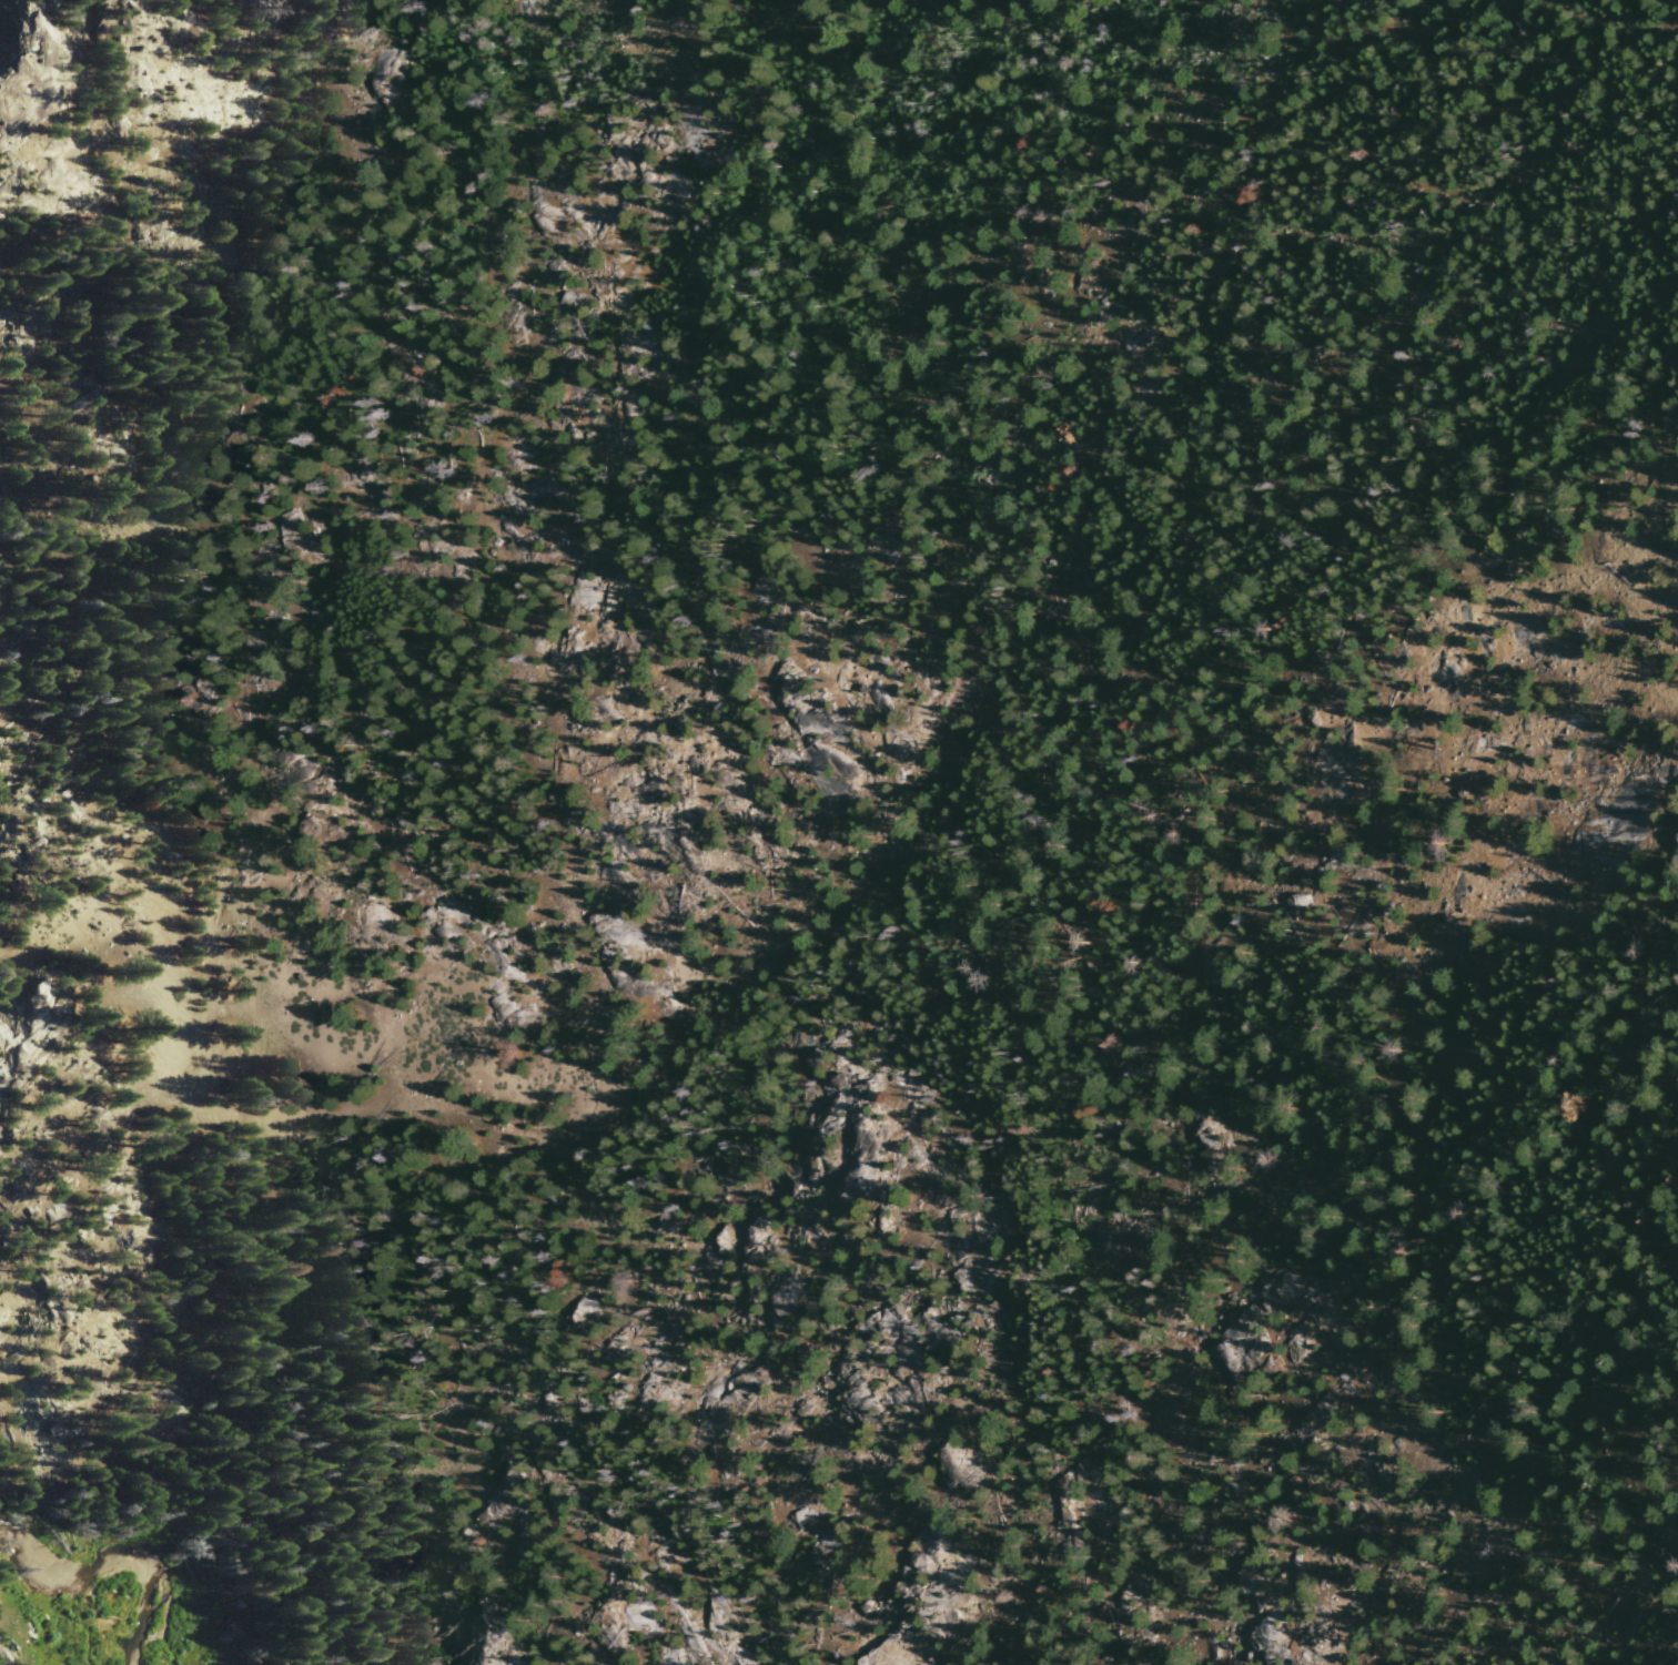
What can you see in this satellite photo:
river: (112, 1551)

